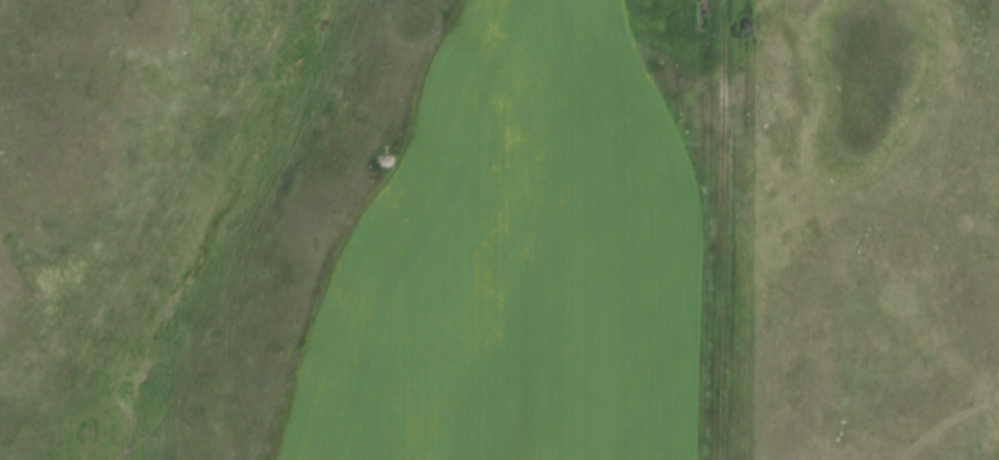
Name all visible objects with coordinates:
road: (721, 229)

